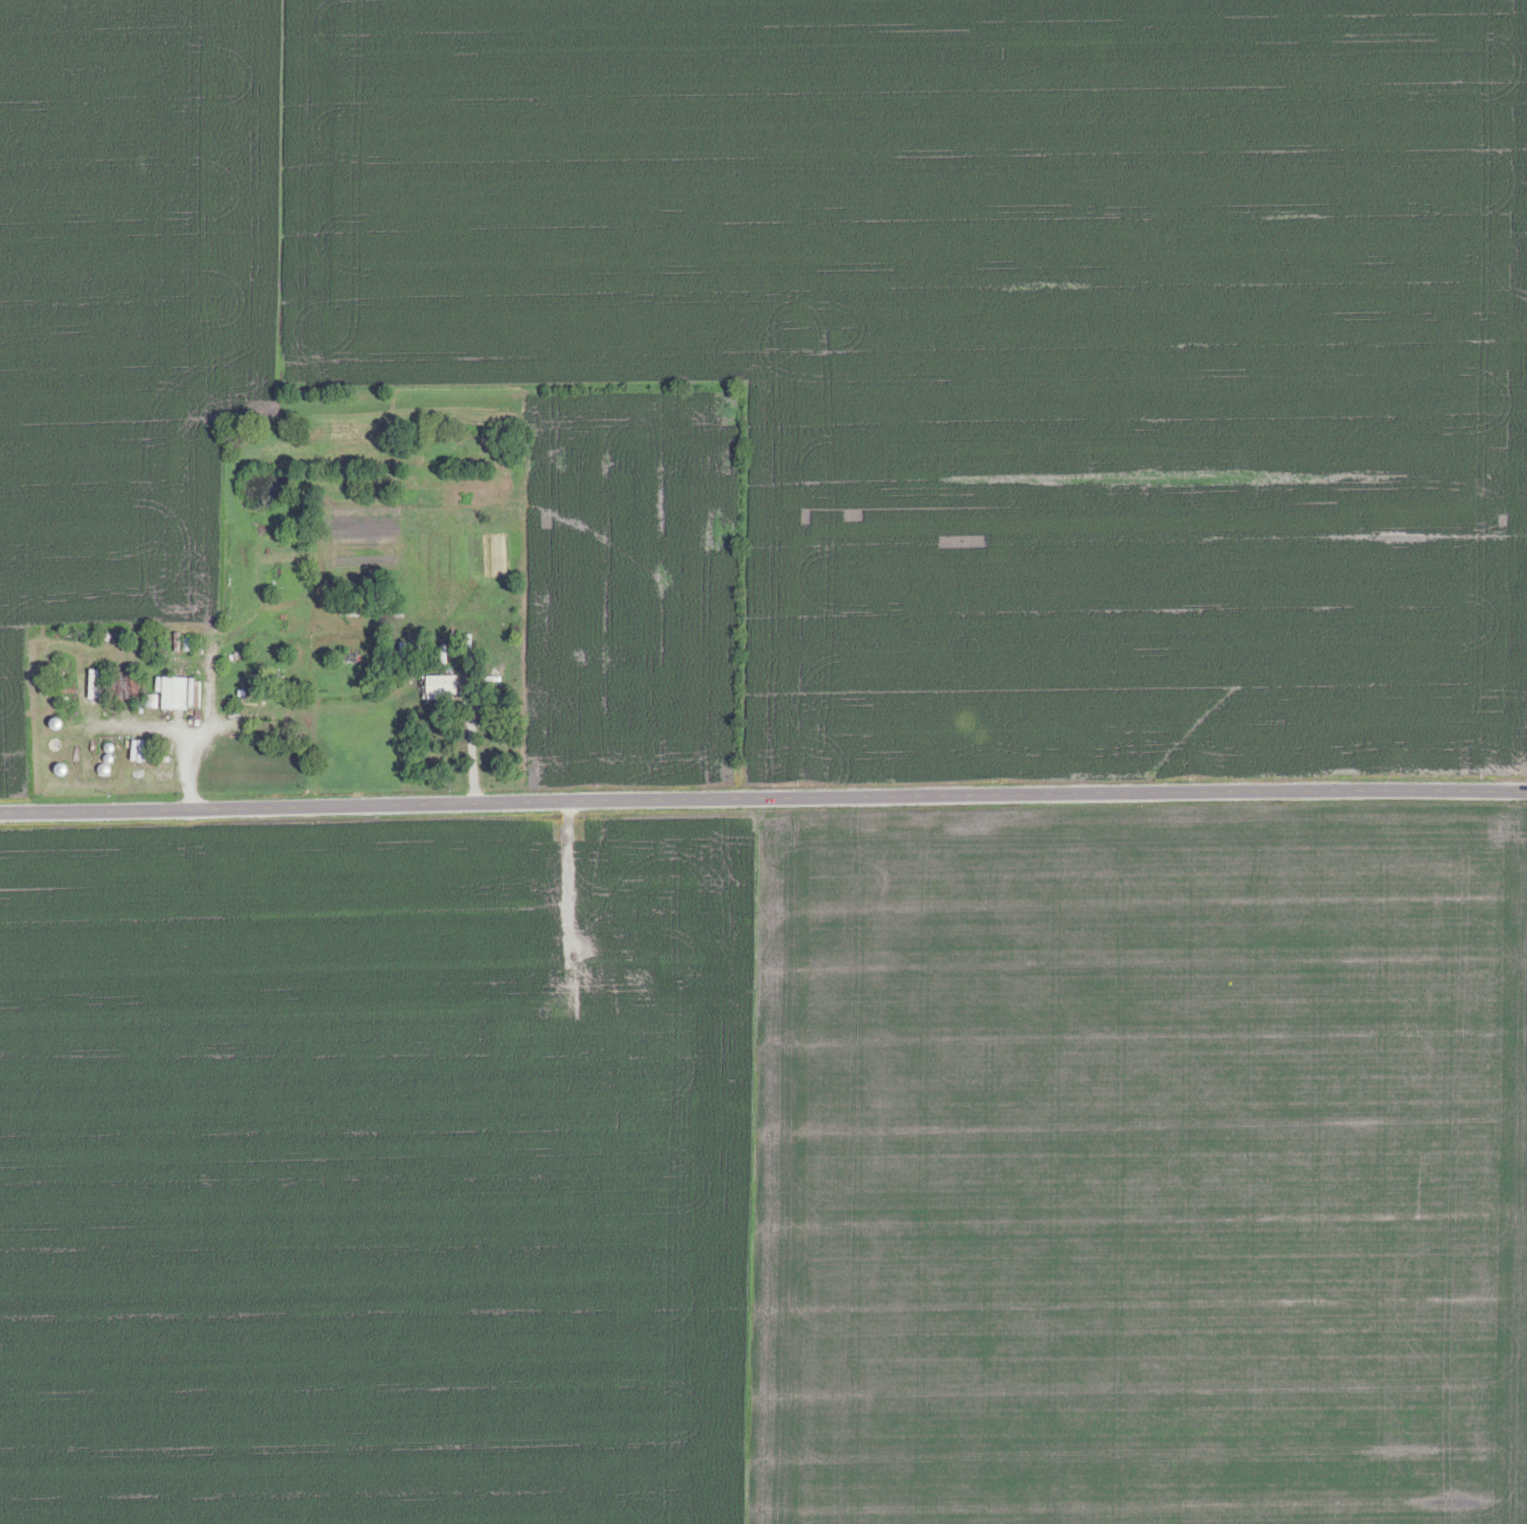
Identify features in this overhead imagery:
building: (440, 685)
building: (172, 691)
road: (142, 725)
road: (197, 730)
road: (471, 740)
road: (763, 797)

